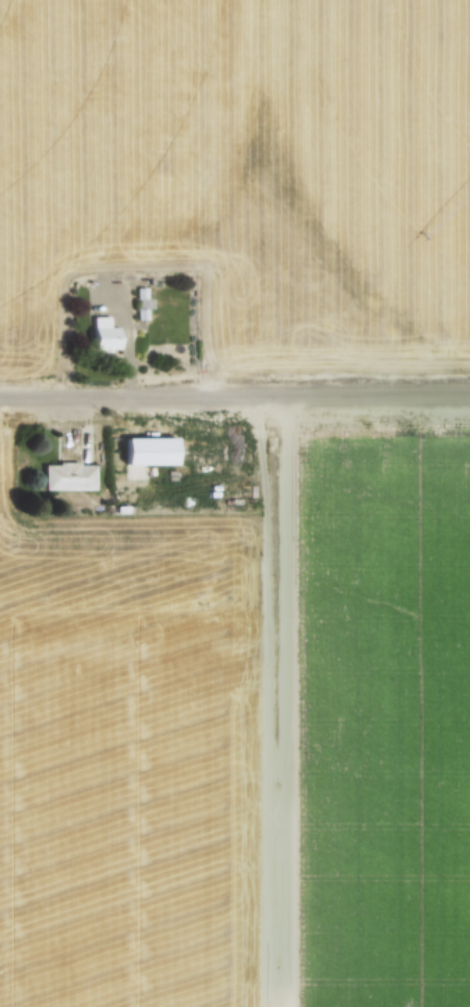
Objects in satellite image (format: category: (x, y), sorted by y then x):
building: (141, 293)
building: (141, 315)
building: (106, 335)
road: (127, 343)
road: (234, 400)
road: (251, 412)
road: (43, 429)
building: (154, 451)
road: (202, 475)
building: (71, 477)
building: (123, 510)
road: (281, 712)
road: (260, 715)

